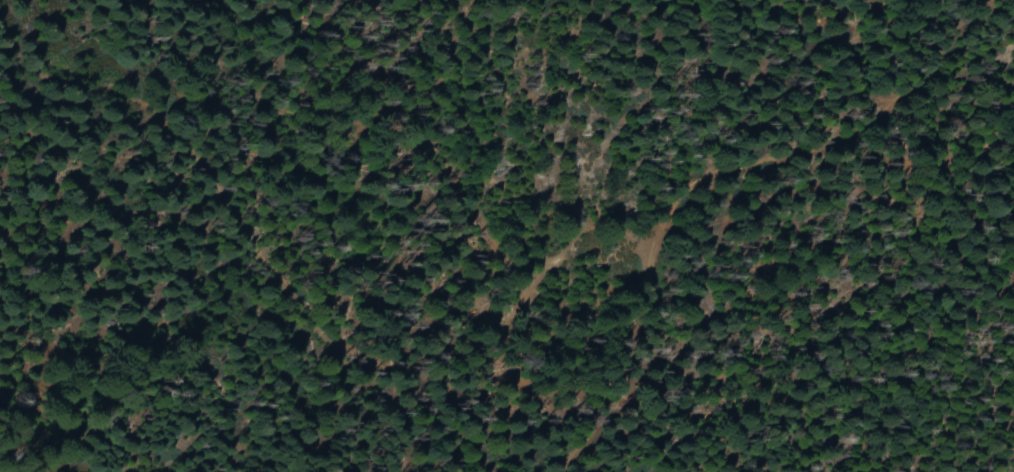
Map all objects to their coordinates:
road: (916, 82)
road: (924, 120)
road: (651, 269)

